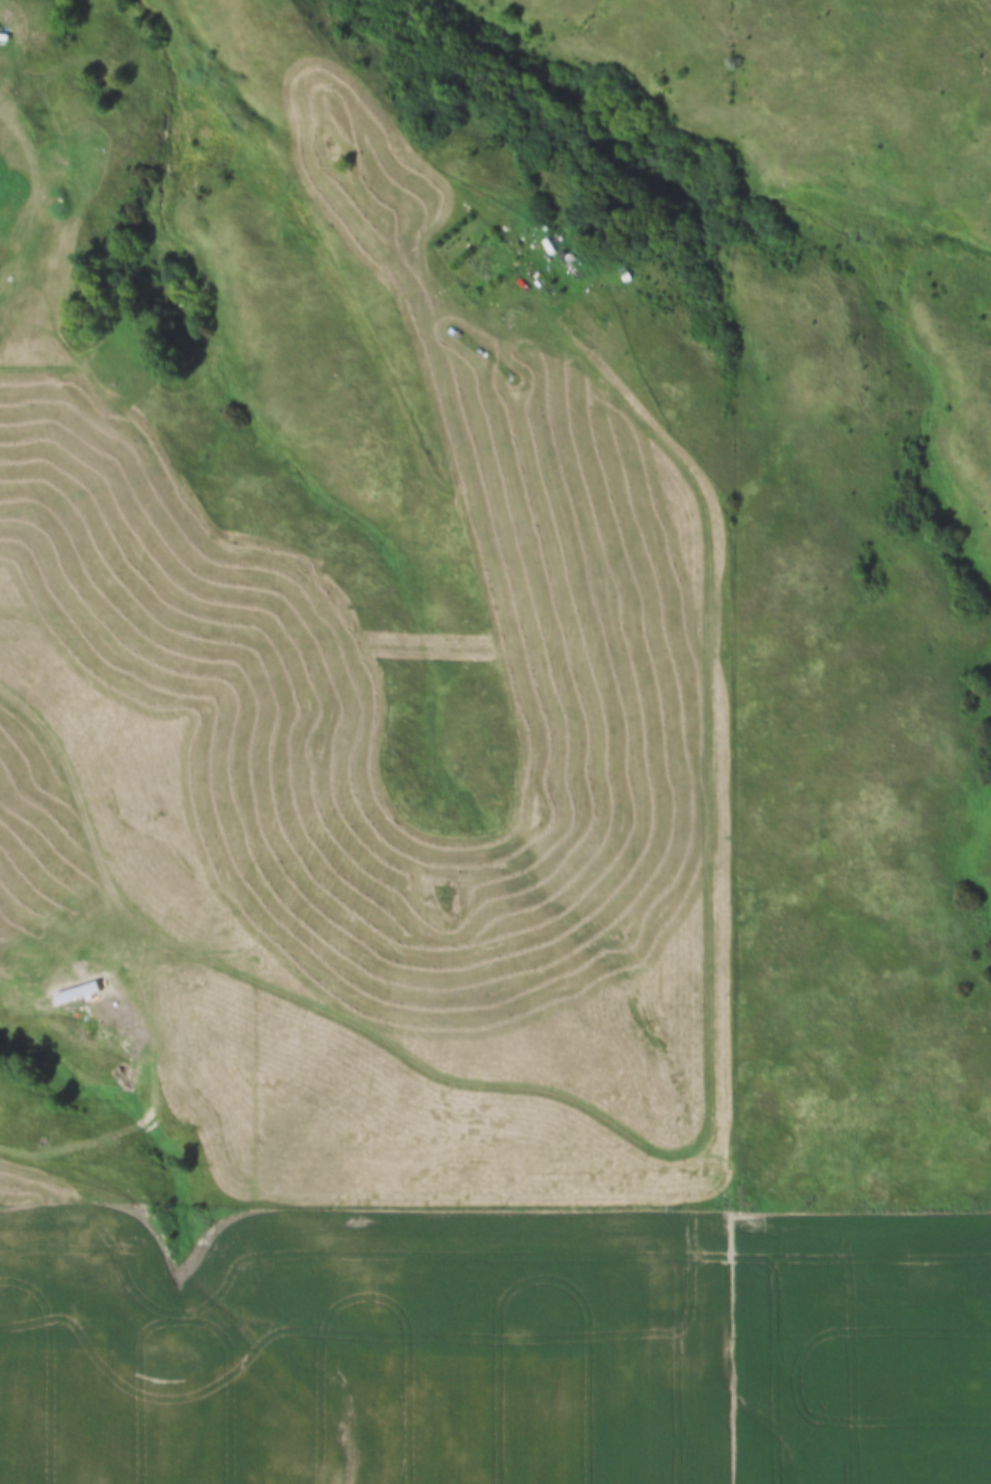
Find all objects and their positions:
building: (98, 962)
road: (494, 1211)

